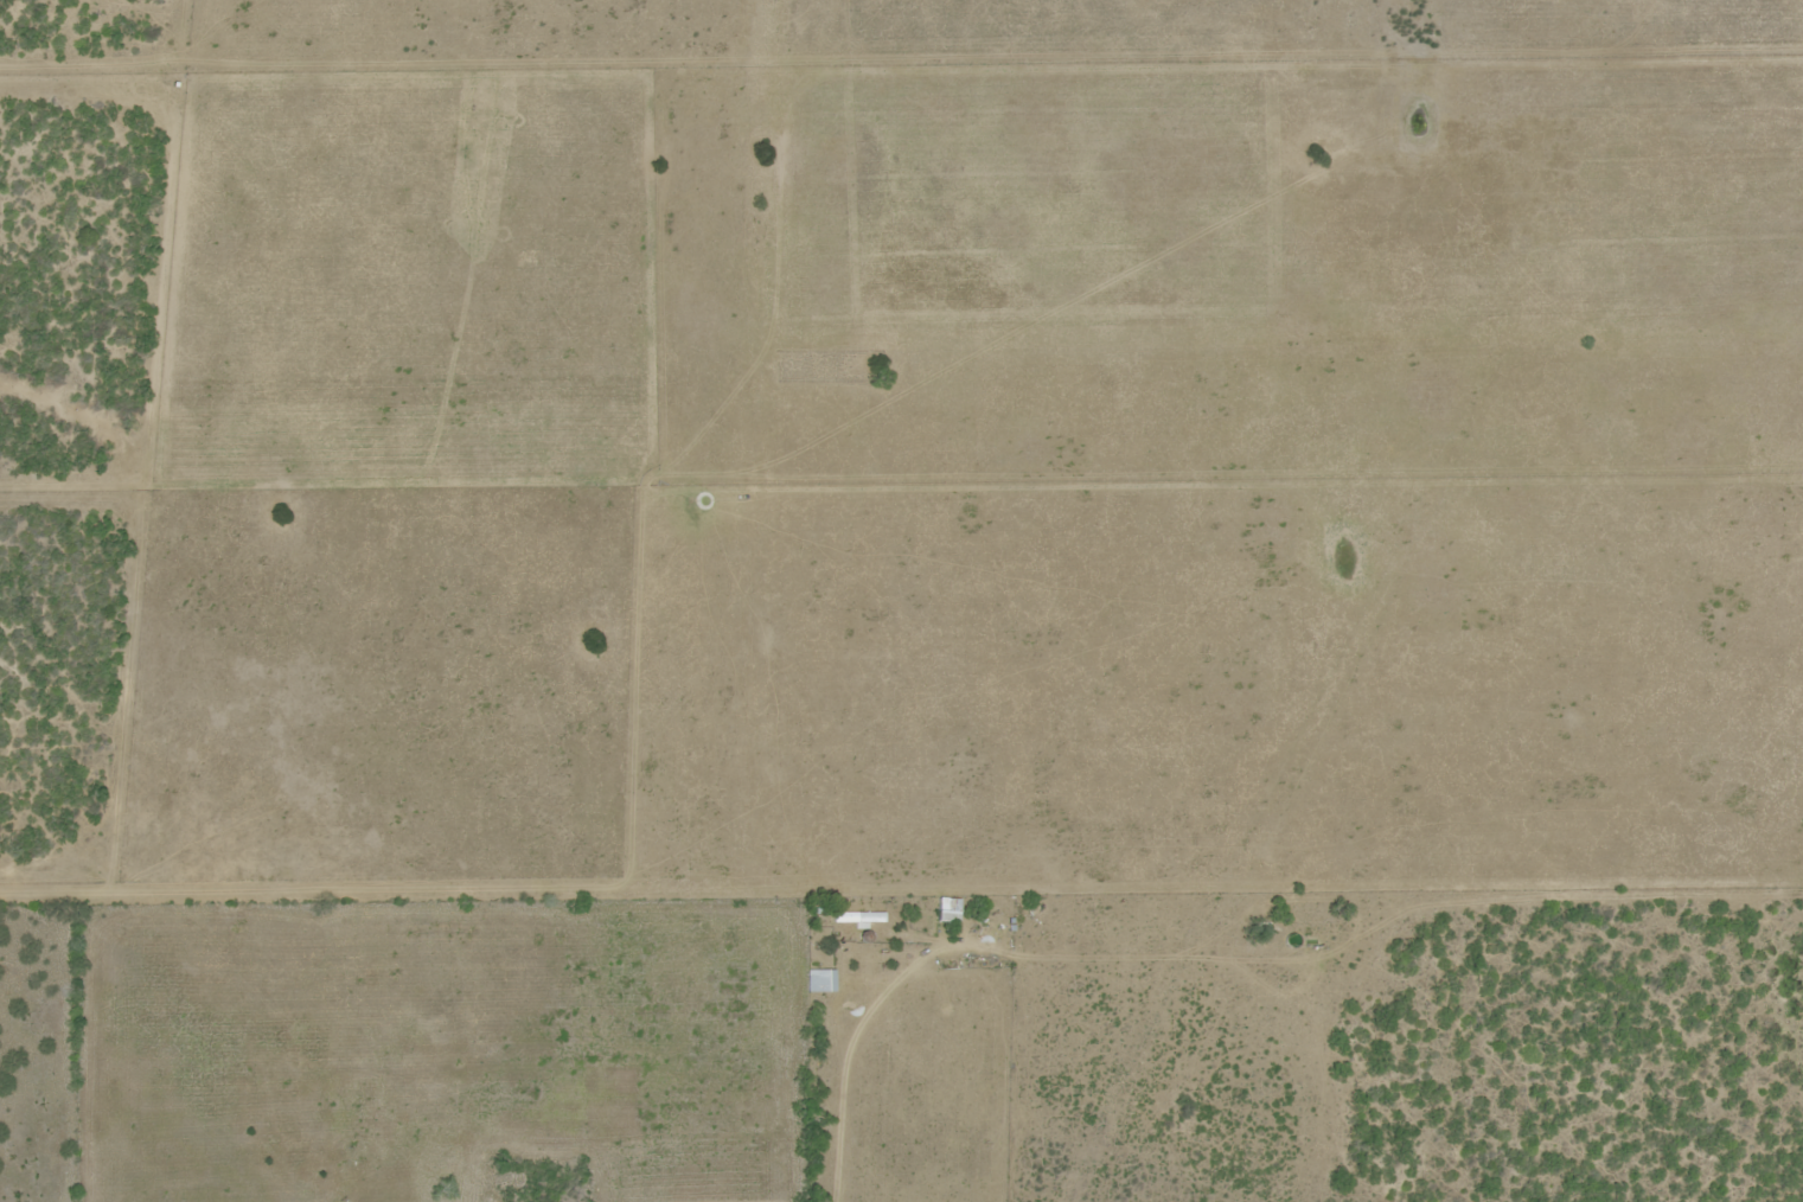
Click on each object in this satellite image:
building: (946, 909)
building: (856, 916)
building: (819, 979)

